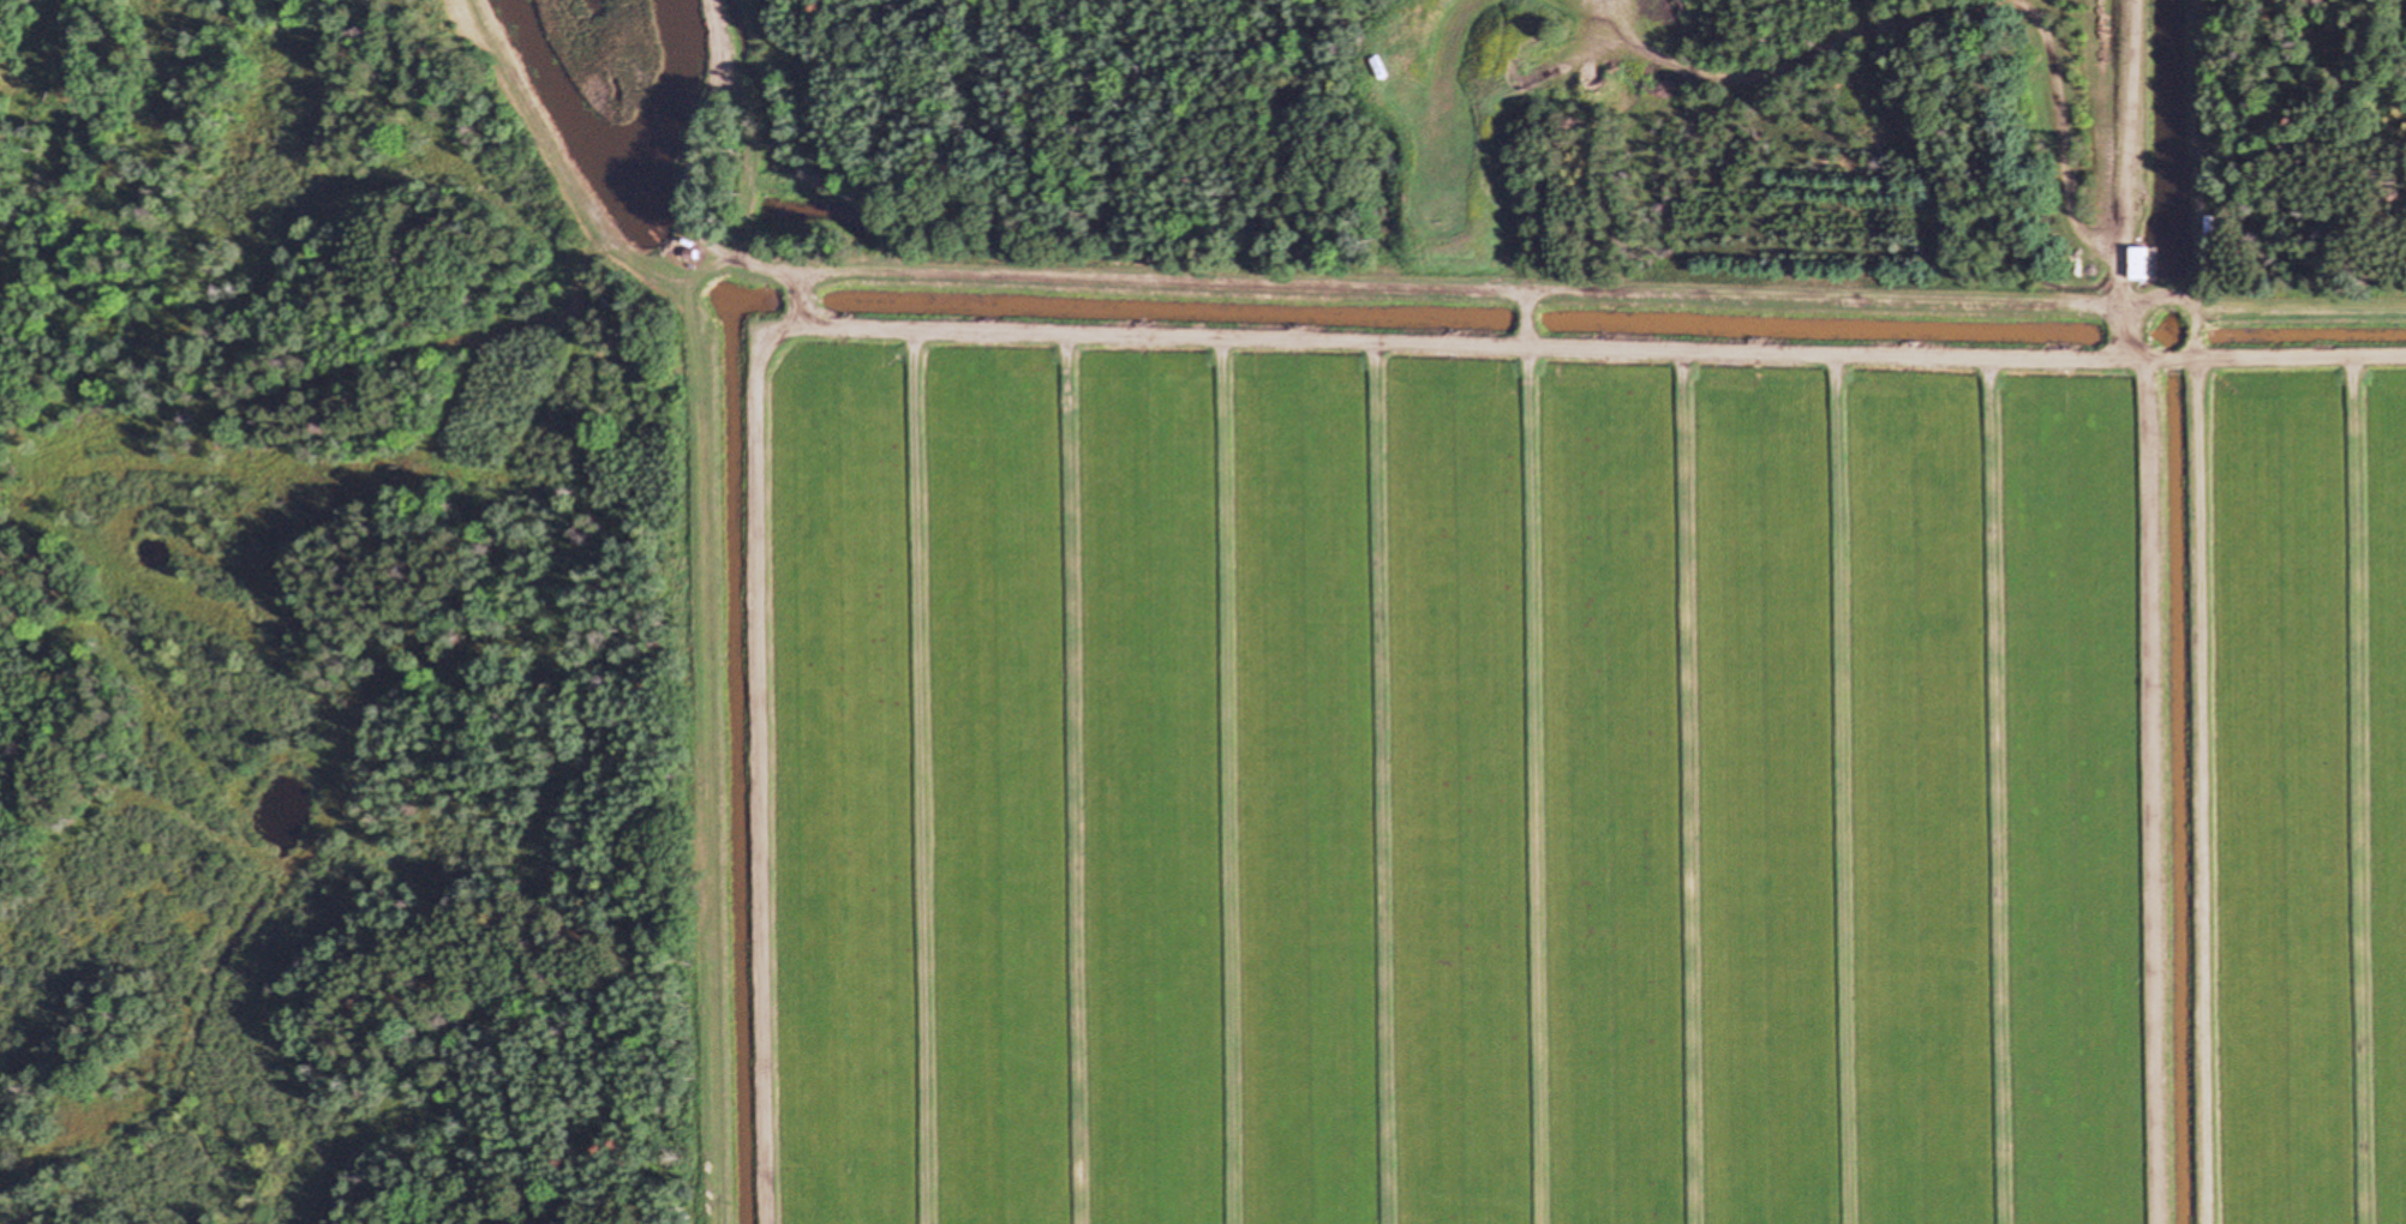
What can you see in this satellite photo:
building: (2142, 263)

